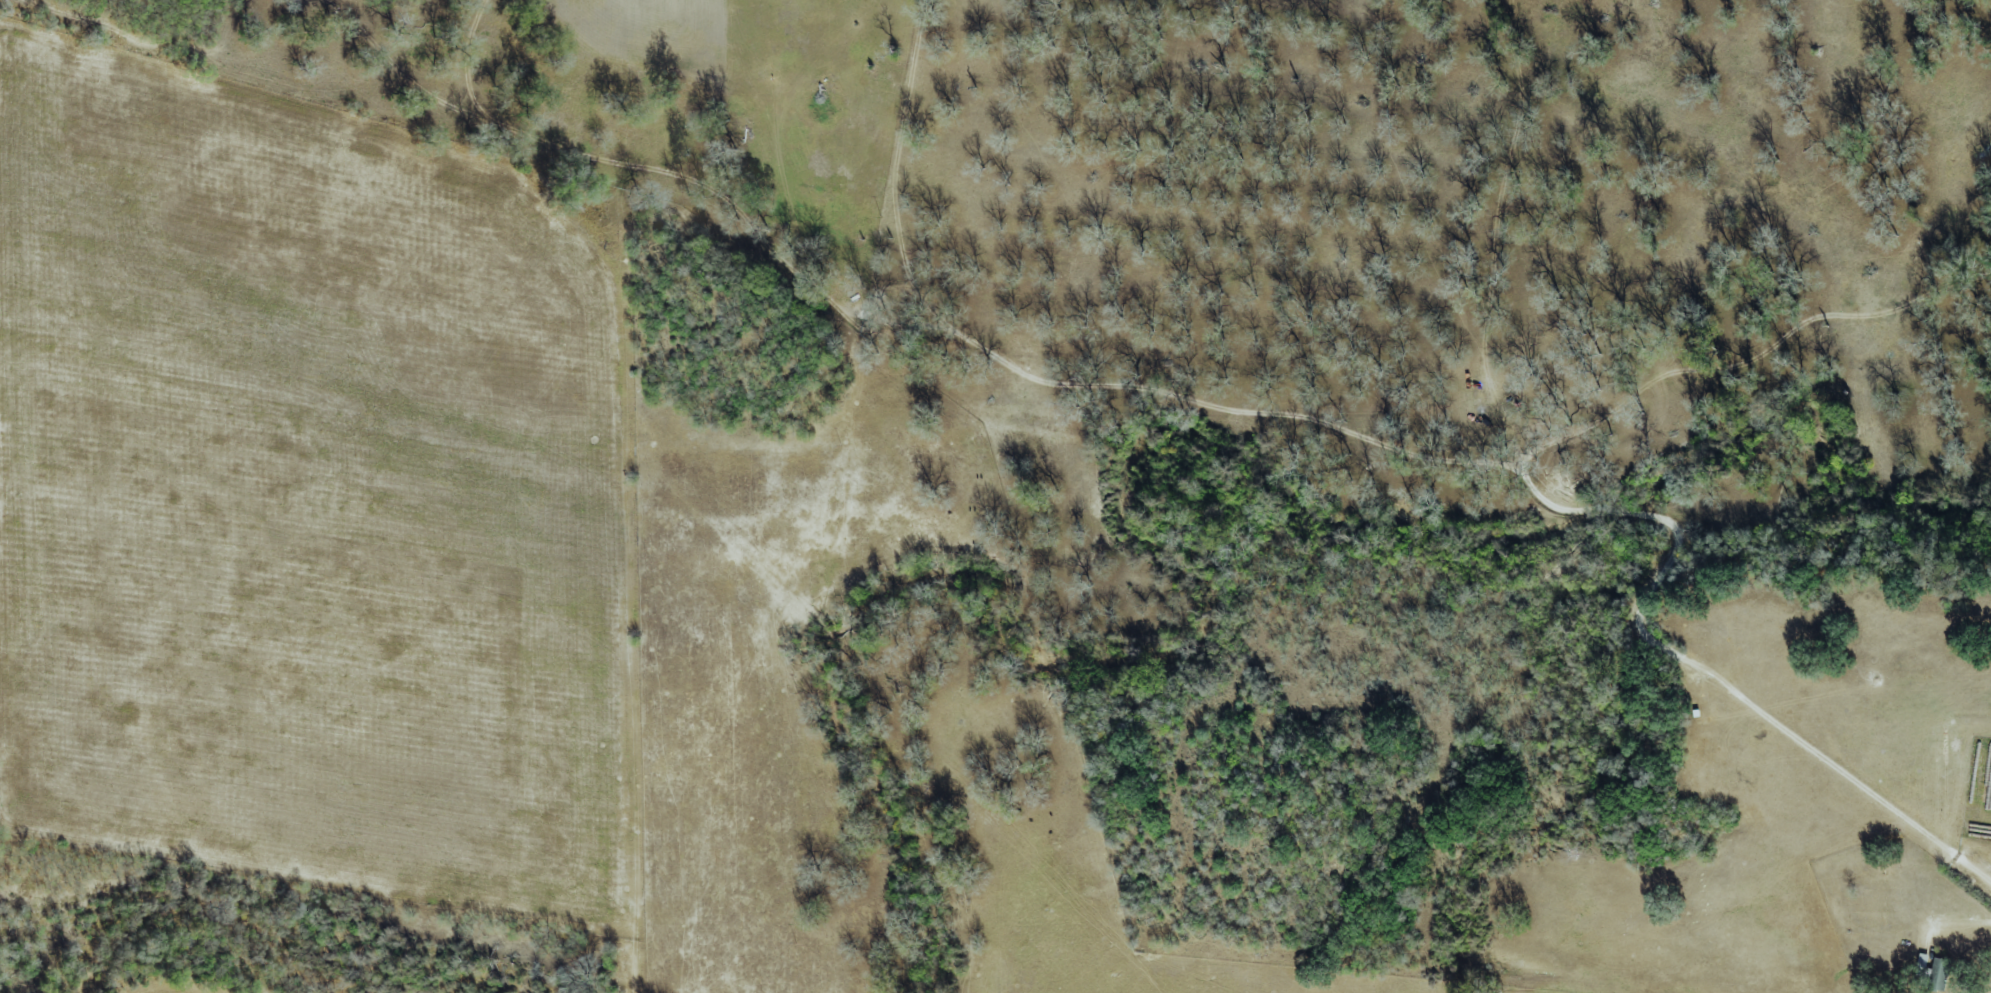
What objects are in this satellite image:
road: (1982, 844)

